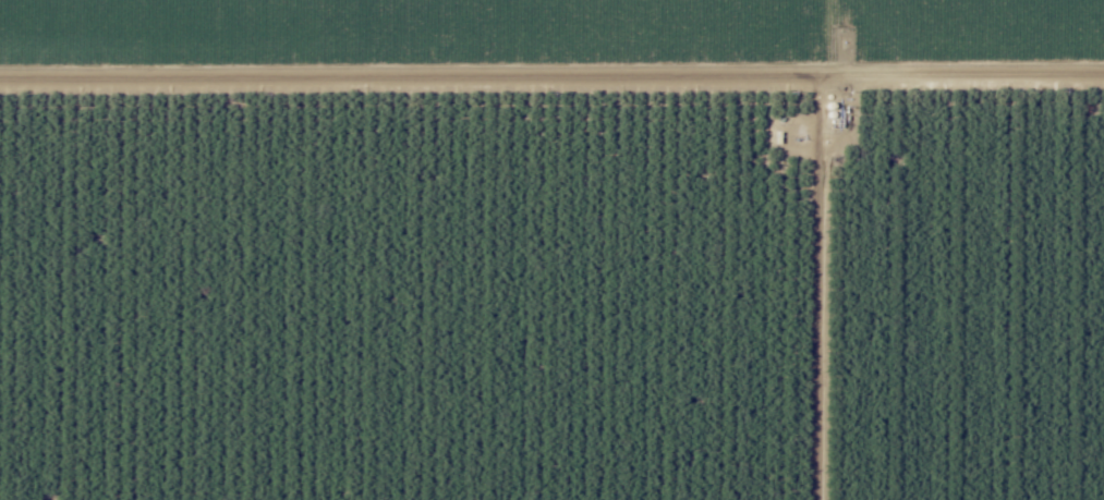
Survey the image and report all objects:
crop: (550, 56)
road: (551, 83)

